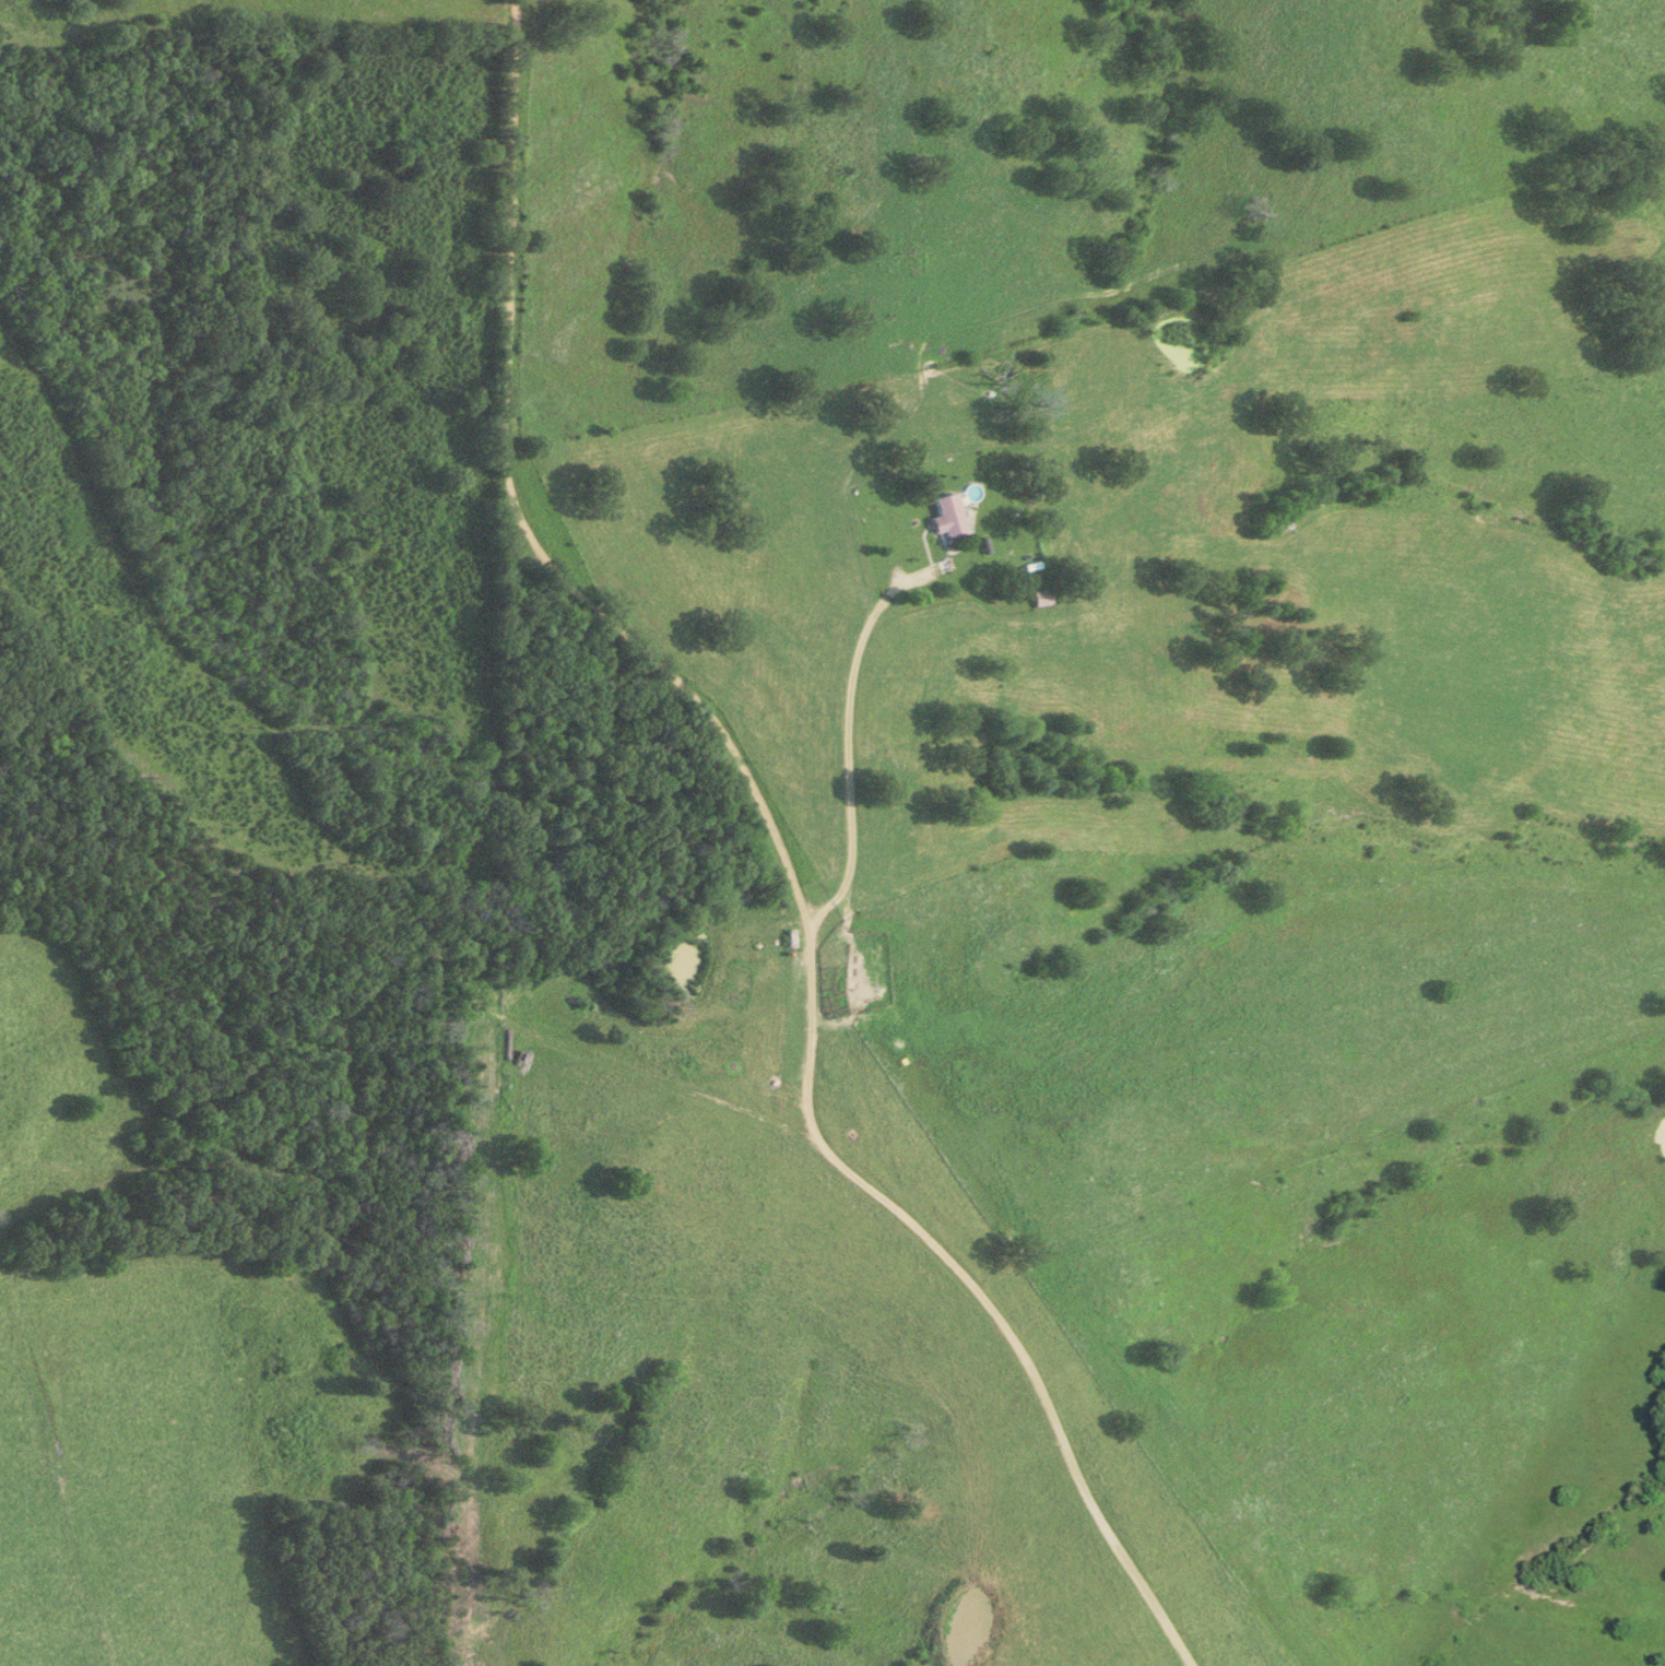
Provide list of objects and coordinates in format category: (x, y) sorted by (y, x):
building: (943, 516)
road: (849, 722)
road: (778, 850)
road: (354, 1016)

